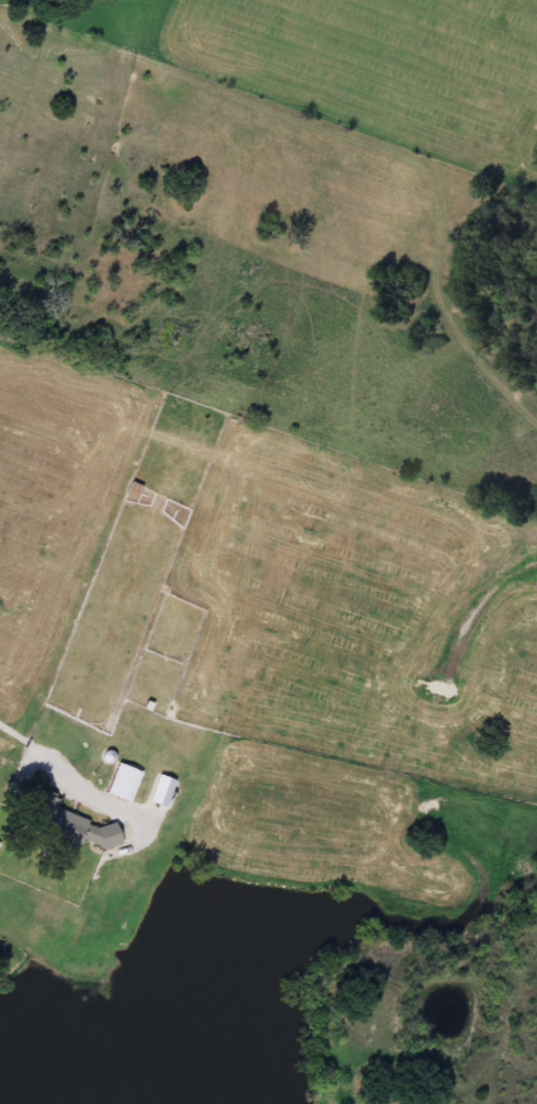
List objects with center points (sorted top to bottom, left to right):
road: (58, 763)
building: (118, 782)
building: (158, 789)
building: (59, 824)

